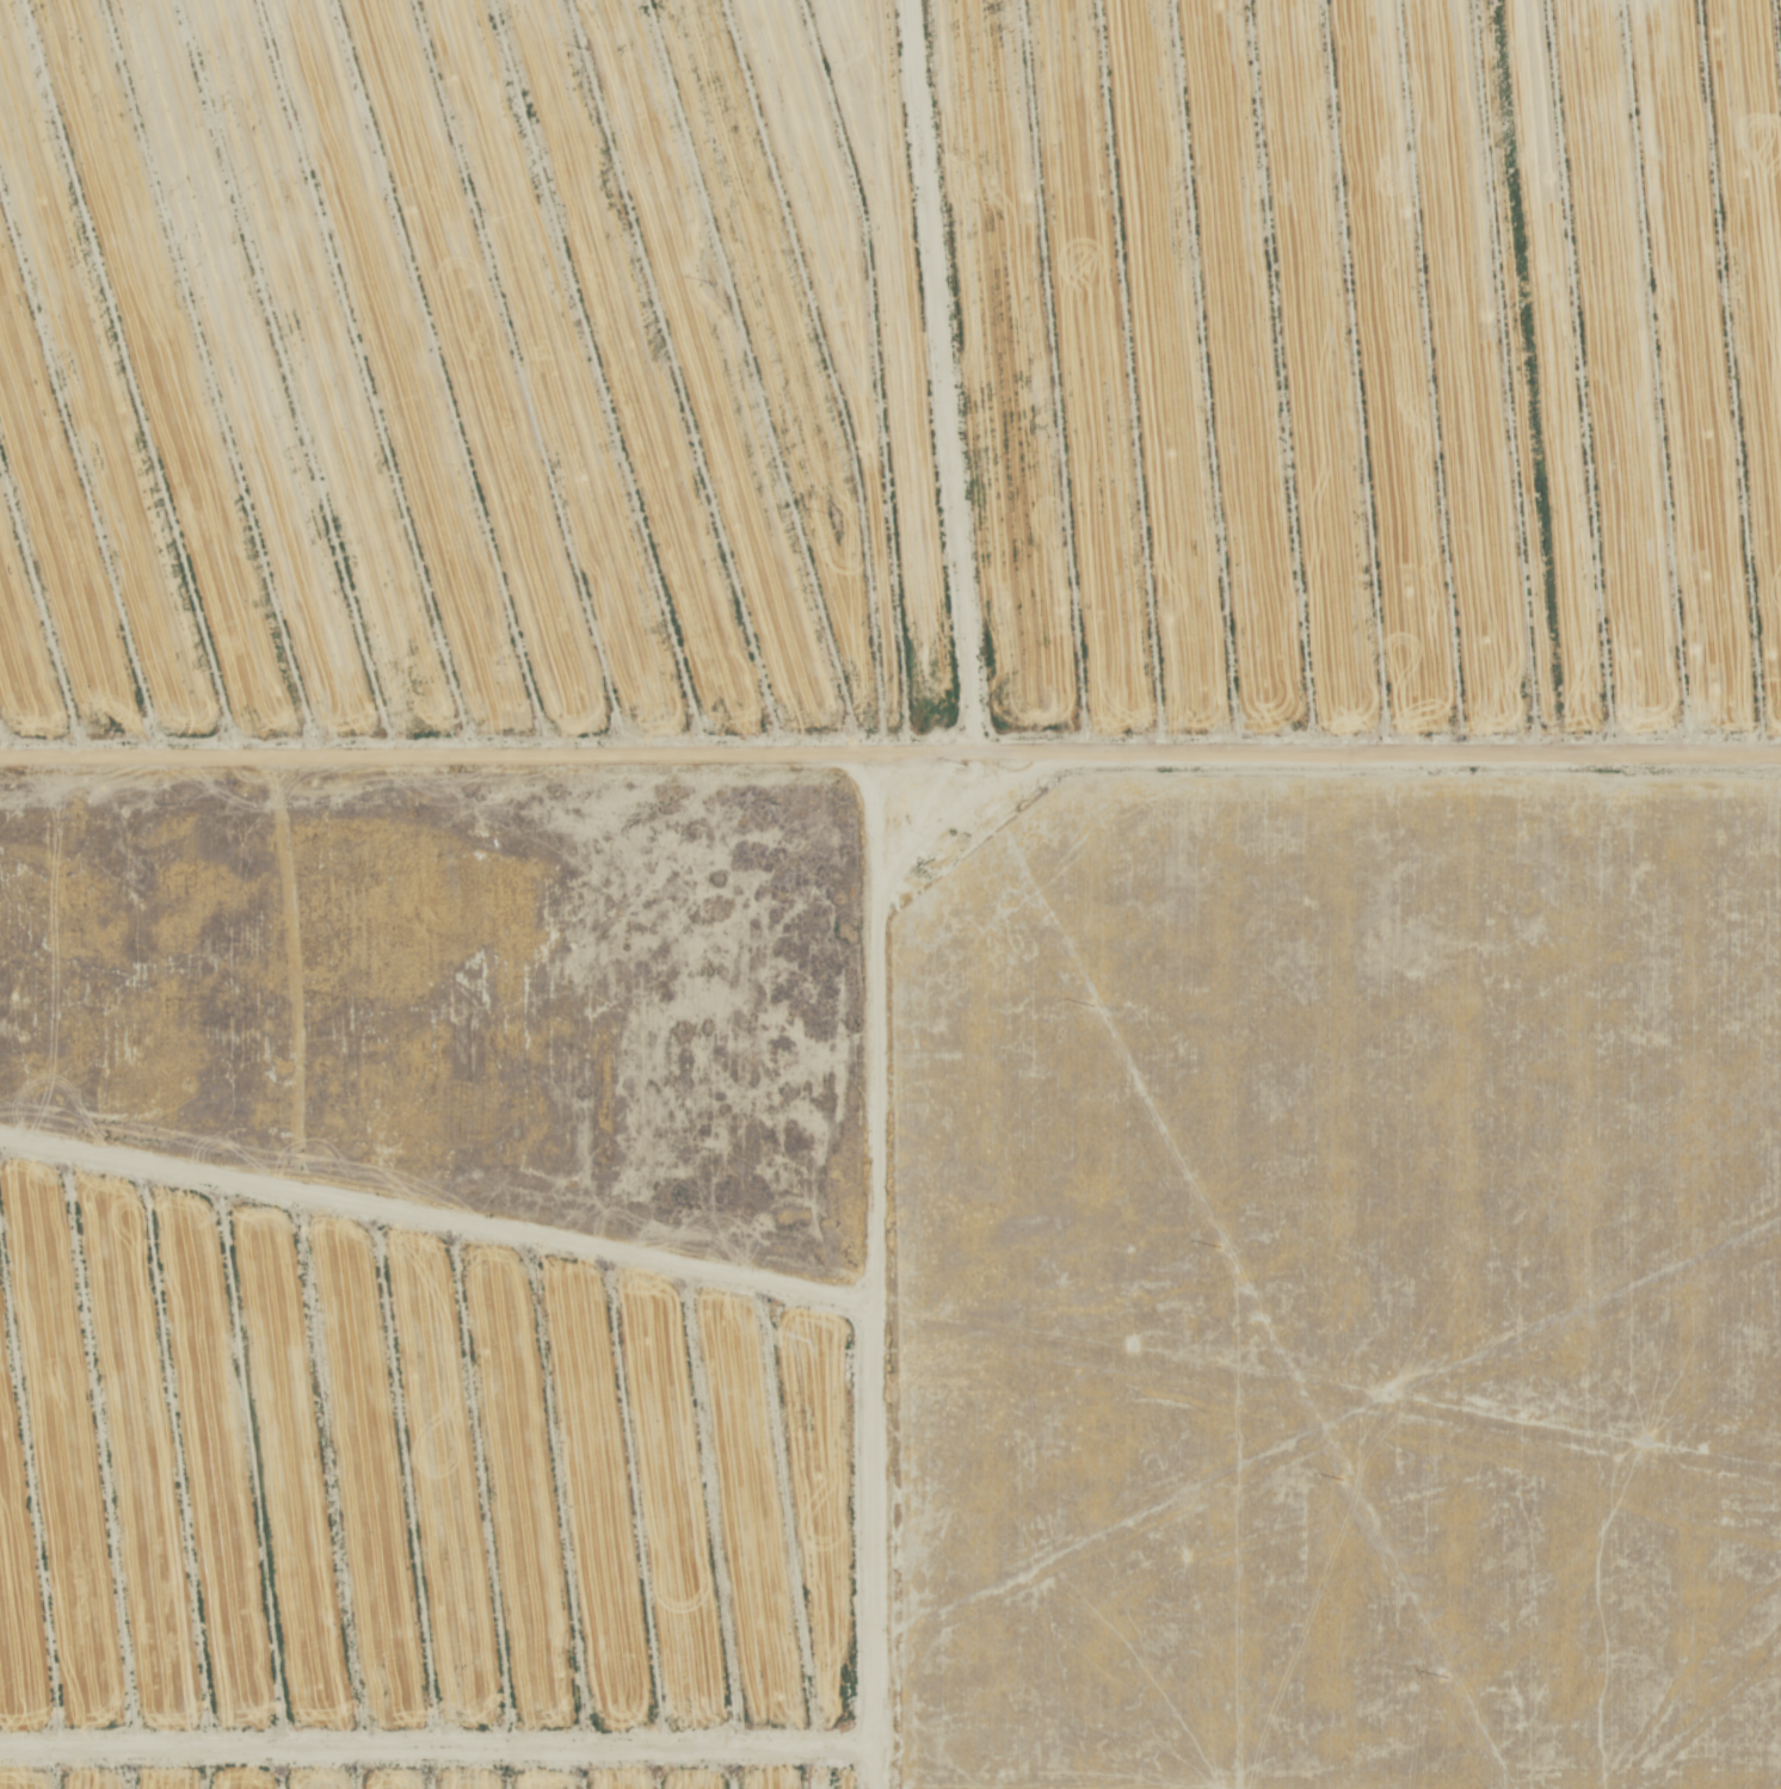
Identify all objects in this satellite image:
road: (1329, 764)
road: (871, 1276)
road: (1669, 1698)

